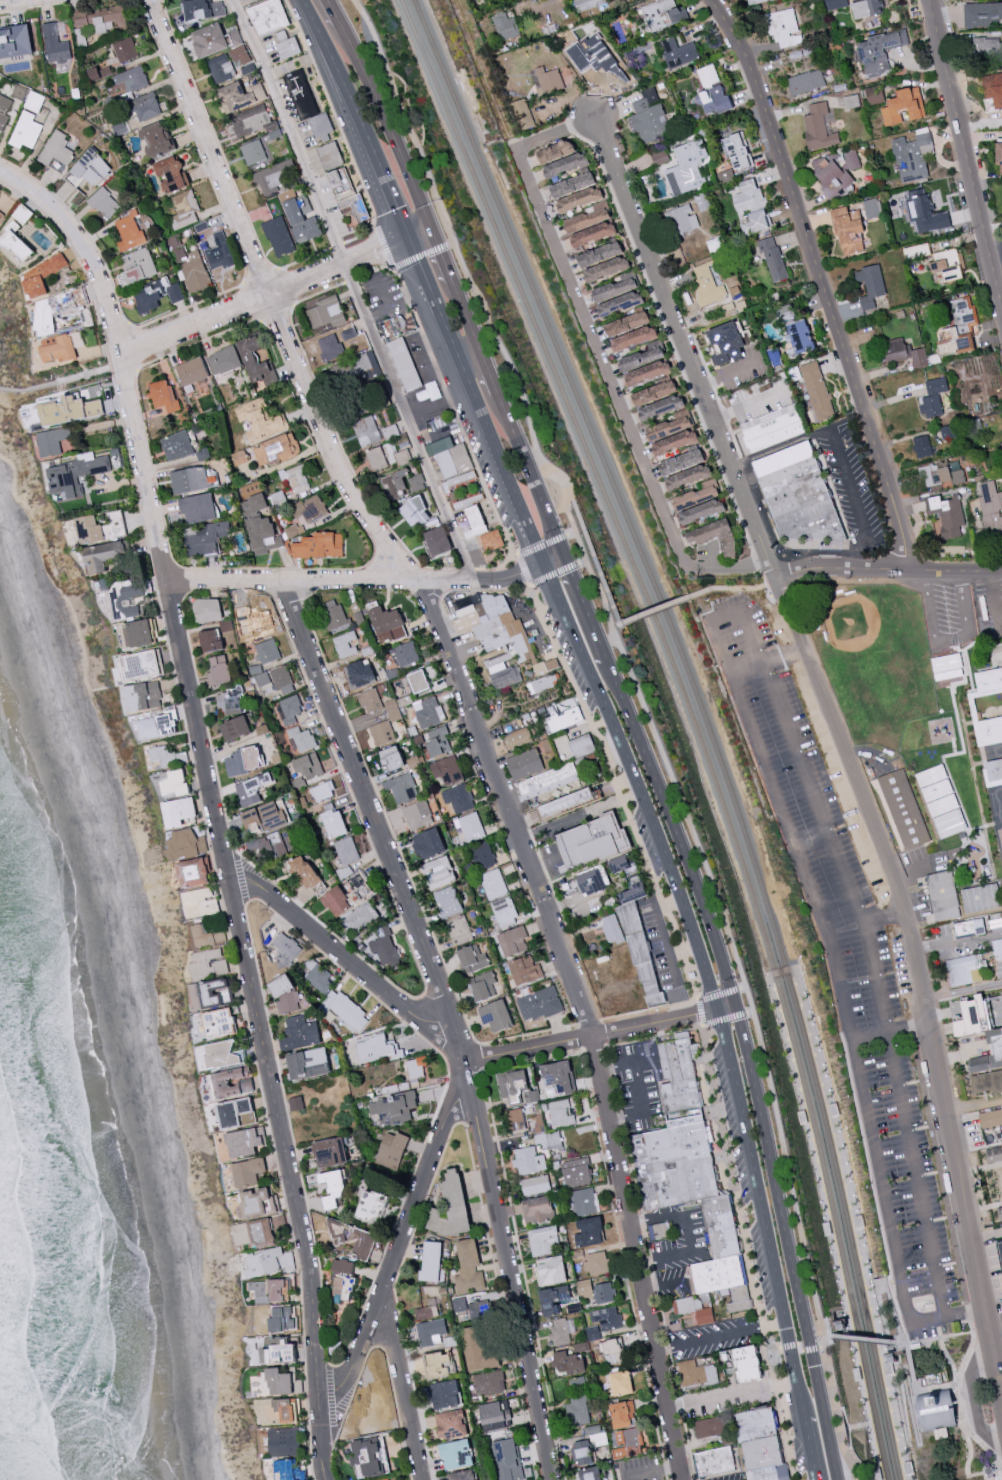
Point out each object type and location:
building: (252, 0)
road: (6, 1)
building: (757, 1)
building: (587, 4)
building: (836, 4)
building: (866, 8)
building: (203, 9)
road: (337, 11)
road: (328, 13)
building: (983, 13)
building: (663, 14)
building: (268, 16)
building: (103, 17)
building: (505, 26)
building: (784, 28)
building: (214, 39)
building: (15, 41)
building: (56, 42)
building: (988, 47)
building: (289, 48)
building: (880, 51)
building: (676, 52)
building: (113, 57)
building: (242, 58)
building: (597, 58)
building: (221, 69)
building: (132, 81)
building: (548, 81)
building: (806, 82)
building: (993, 87)
building: (712, 92)
building: (302, 93)
building: (240, 95)
building: (874, 95)
building: (34, 101)
building: (851, 101)
building: (147, 106)
building: (904, 106)
road: (332, 110)
building: (4, 111)
building: (523, 114)
road: (359, 115)
building: (649, 117)
building: (250, 120)
road: (392, 121)
building: (321, 124)
building: (819, 126)
building: (26, 130)
road: (290, 130)
building: (156, 139)
building: (555, 151)
building: (737, 151)
building: (57, 152)
building: (253, 152)
road: (965, 153)
building: (330, 155)
building: (913, 155)
building: (999, 155)
building: (659, 156)
building: (852, 159)
building: (566, 164)
building: (92, 167)
building: (687, 167)
building: (833, 173)
building: (172, 174)
building: (272, 176)
building: (573, 184)
building: (749, 196)
building: (348, 198)
building: (580, 199)
building: (702, 202)
building: (105, 203)
building: (872, 208)
building: (184, 209)
building: (924, 211)
building: (1, 213)
building: (300, 218)
building: (587, 218)
building: (682, 219)
building: (758, 221)
traffic signals: (434, 223)
road: (420, 229)
building: (848, 230)
building: (130, 231)
building: (593, 234)
traffic signals: (407, 235)
building: (279, 236)
building: (21, 242)
road: (375, 248)
road: (445, 251)
building: (220, 252)
building: (600, 254)
building: (773, 257)
road: (417, 262)
road: (400, 264)
building: (946, 265)
building: (138, 266)
building: (192, 267)
building: (607, 268)
building: (47, 275)
road: (823, 280)
building: (706, 285)
building: (870, 285)
road: (354, 289)
building: (614, 289)
road: (382, 290)
building: (175, 292)
building: (149, 299)
road: (408, 299)
building: (620, 303)
road: (234, 310)
road: (377, 311)
road: (469, 311)
building: (326, 312)
building: (785, 312)
building: (48, 317)
road: (441, 321)
building: (627, 323)
building: (394, 326)
building: (959, 328)
building: (799, 337)
building: (634, 338)
road: (671, 342)
building: (727, 342)
building: (330, 345)
road: (468, 346)
road: (686, 347)
building: (61, 348)
building: (894, 352)
road: (601, 354)
building: (641, 357)
building: (919, 357)
building: (224, 360)
building: (256, 361)
building: (407, 363)
building: (361, 366)
road: (492, 366)
road: (96, 368)
building: (192, 372)
building: (648, 372)
road: (731, 372)
building: (937, 385)
building: (820, 391)
building: (655, 392)
building: (164, 397)
road: (437, 400)
building: (931, 406)
building: (661, 407)
building: (70, 410)
road: (455, 411)
building: (259, 420)
building: (777, 425)
building: (669, 427)
building: (372, 431)
building: (53, 440)
building: (675, 441)
building: (177, 445)
building: (922, 446)
road: (419, 448)
road: (841, 448)
building: (276, 449)
building: (382, 456)
building: (403, 456)
road: (498, 456)
building: (454, 462)
building: (682, 462)
road: (533, 471)
building: (76, 473)
building: (940, 474)
building: (689, 476)
building: (296, 478)
building: (192, 479)
building: (415, 481)
building: (396, 484)
building: (803, 493)
building: (697, 494)
building: (277, 498)
road: (571, 498)
building: (198, 508)
building: (990, 508)
building: (310, 509)
building: (702, 511)
building: (417, 512)
building: (947, 514)
building: (476, 520)
building: (259, 525)
building: (101, 527)
building: (294, 530)
building: (715, 536)
building: (207, 538)
building: (491, 540)
building: (437, 541)
building: (319, 545)
traffic signals: (565, 551)
building: (104, 555)
road: (553, 557)
traffic signals: (541, 563)
road: (524, 568)
road: (888, 568)
road: (355, 580)
road: (748, 587)
road: (777, 594)
road: (995, 599)
building: (126, 600)
road: (588, 604)
building: (207, 610)
road: (618, 613)
road: (737, 616)
building: (334, 617)
building: (388, 624)
building: (141, 633)
building: (496, 636)
road: (948, 638)
building: (211, 640)
park: (873, 640)
building: (346, 644)
building: (267, 651)
building: (406, 654)
road: (769, 662)
building: (142, 665)
building: (546, 666)
building: (947, 666)
building: (219, 670)
building: (359, 674)
building: (263, 679)
building: (283, 680)
building: (989, 680)
building: (418, 681)
building: (543, 683)
building: (142, 696)
building: (370, 700)
building: (228, 702)
building: (290, 710)
building: (393, 710)
building: (428, 712)
building: (572, 718)
road: (472, 719)
road: (654, 723)
railway: (693, 724)
railway: (706, 724)
building: (158, 725)
building: (236, 728)
building: (988, 730)
building: (382, 732)
building: (302, 738)
building: (517, 738)
building: (438, 741)
building: (583, 745)
building: (163, 756)
building: (392, 758)
building: (245, 760)
building: (308, 765)
building: (528, 765)
building: (446, 771)
building: (550, 779)
building: (177, 782)
road: (634, 783)
building: (934, 783)
building: (402, 787)
building: (252, 788)
road: (619, 789)
building: (323, 791)
building: (458, 798)
road: (214, 802)
building: (570, 804)
building: (902, 809)
building: (180, 811)
road: (577, 813)
building: (417, 815)
building: (265, 816)
building: (947, 816)
building: (333, 822)
building: (469, 826)
road: (677, 829)
building: (597, 842)
building: (182, 844)
building: (428, 844)
building: (270, 845)
building: (346, 850)
building: (483, 855)
road: (546, 861)
building: (619, 864)
building: (195, 872)
building: (304, 872)
building: (439, 872)
building: (357, 879)
building: (593, 880)
building: (493, 883)
building: (943, 895)
building: (981, 897)
park: (132, 899)
building: (337, 900)
building: (448, 901)
building: (201, 903)
building: (504, 912)
road: (887, 917)
building: (969, 928)
building: (458, 929)
building: (611, 929)
building: (207, 935)
building: (513, 940)
road: (958, 941)
building: (286, 945)
road: (663, 949)
building: (643, 951)
road: (915, 951)
parking lot: (850, 952)
road: (344, 957)
building: (472, 958)
building: (208, 963)
building: (965, 969)
building: (525, 970)
road: (779, 973)
building: (316, 975)
railway: (797, 975)
building: (483, 985)
railway: (769, 986)
road: (963, 989)
building: (211, 994)
building: (285, 995)
traffic signals: (738, 1003)
building: (539, 1004)
road: (727, 1006)
traffic signals: (716, 1009)
building: (346, 1010)
road: (700, 1013)
road: (702, 1013)
building: (496, 1015)
road: (450, 1019)
building: (220, 1022)
building: (300, 1033)
building: (963, 1033)
road: (893, 1034)
road: (573, 1039)
building: (377, 1048)
building: (221, 1054)
building: (308, 1063)
building: (416, 1067)
building: (559, 1076)
building: (987, 1081)
building: (233, 1082)
road: (638, 1085)
building: (515, 1086)
building: (296, 1103)
building: (393, 1108)
building: (237, 1113)
building: (560, 1113)
building: (991, 1118)
building: (515, 1119)
building: (244, 1142)
building: (392, 1150)
building: (330, 1151)
building: (994, 1154)
building: (528, 1161)
building: (248, 1171)
building: (576, 1172)
building: (690, 1172)
building: (535, 1183)
road: (942, 1186)
building: (332, 1187)
building: (583, 1200)
building: (258, 1202)
building: (372, 1205)
building: (451, 1207)
building: (537, 1209)
road: (759, 1212)
building: (1000, 1212)
road: (856, 1227)
building: (589, 1231)
road: (828, 1232)
building: (254, 1233)
road: (687, 1233)
road: (789, 1233)
road: (987, 1234)
building: (354, 1239)
building: (542, 1239)
road: (397, 1247)
building: (1000, 1250)
road: (749, 1252)
building: (268, 1261)
building: (431, 1261)
building: (597, 1262)
building: (343, 1266)
building: (469, 1267)
building: (551, 1270)
road: (883, 1283)
road: (992, 1283)
road: (666, 1285)
building: (343, 1287)
building: (584, 1287)
building: (271, 1290)
building: (604, 1293)
building: (554, 1299)
building: (472, 1307)
building: (694, 1309)
building: (427, 1310)
building: (283, 1318)
building: (606, 1318)
road: (840, 1319)
road: (837, 1321)
road: (825, 1323)
road: (840, 1323)
road: (773, 1324)
building: (841, 1326)
building: (562, 1330)
building: (431, 1331)
building: (593, 1333)
road: (828, 1335)
road: (939, 1337)
road: (711, 1338)
road: (864, 1339)
road: (799, 1342)
road: (902, 1344)
road: (900, 1348)
building: (477, 1350)
building: (614, 1350)
road: (892, 1352)
building: (279, 1353)
road: (889, 1354)
road: (891, 1356)
building: (892, 1358)
road: (998, 1358)
road: (949, 1360)
building: (569, 1363)
building: (747, 1363)
road: (911, 1363)
building: (438, 1364)
road: (890, 1369)
building: (697, 1373)
road: (909, 1380)
road: (405, 1381)
building: (280, 1382)
building: (488, 1382)
building: (620, 1382)
building: (578, 1383)
road: (901, 1384)
road: (955, 1384)
road: (730, 1393)
building: (445, 1394)
road: (973, 1395)
road: (838, 1408)
building: (287, 1409)
building: (937, 1409)
building: (577, 1410)
building: (623, 1414)
building: (495, 1415)
building: (377, 1417)
building: (451, 1424)
building: (710, 1426)
road: (968, 1431)
building: (284, 1441)
building: (761, 1444)
building: (589, 1445)
road: (806, 1448)
road: (849, 1450)
building: (456, 1454)
building: (369, 1457)
building: (506, 1457)
building: (715, 1461)
road: (1001, 1468)
building: (285, 1469)
road: (651, 1470)
road: (837, 1472)
building: (592, 1473)
building: (462, 1475)
building: (389, 1479)
road: (838, 1479)

